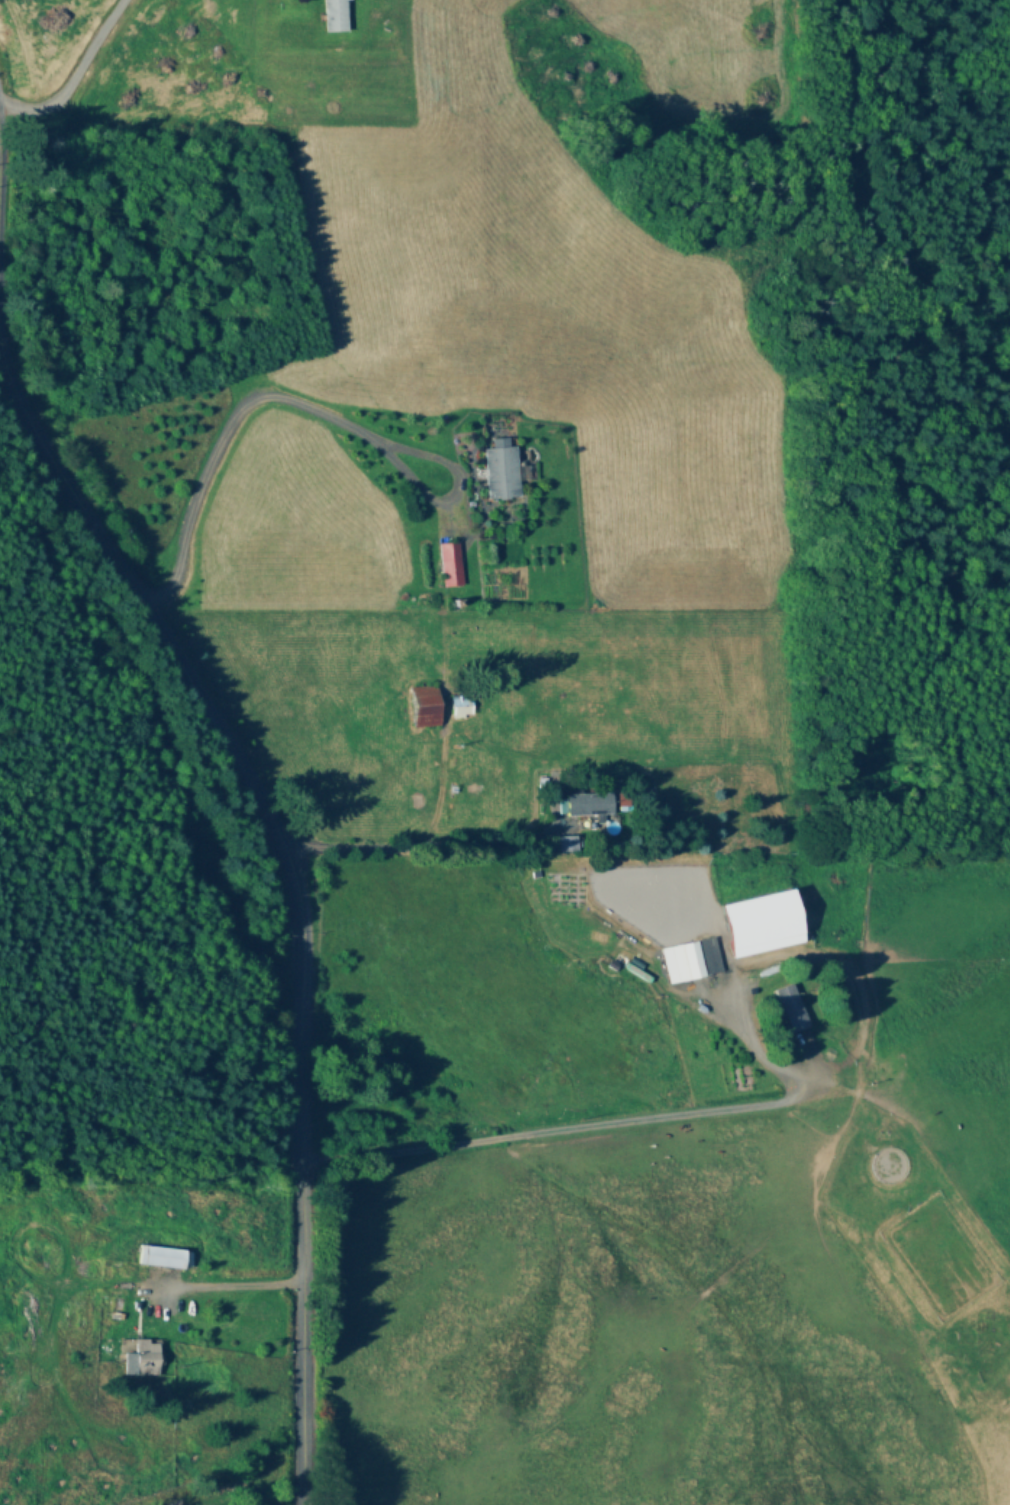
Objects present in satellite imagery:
building: (336, 16)
road: (68, 74)
road: (304, 407)
building: (500, 474)
building: (448, 565)
building: (424, 707)
building: (459, 707)
road: (258, 794)
building: (589, 805)
road: (419, 847)
building: (763, 924)
building: (690, 961)
building: (792, 1009)
road: (606, 1126)
building: (164, 1257)
building: (143, 1360)

